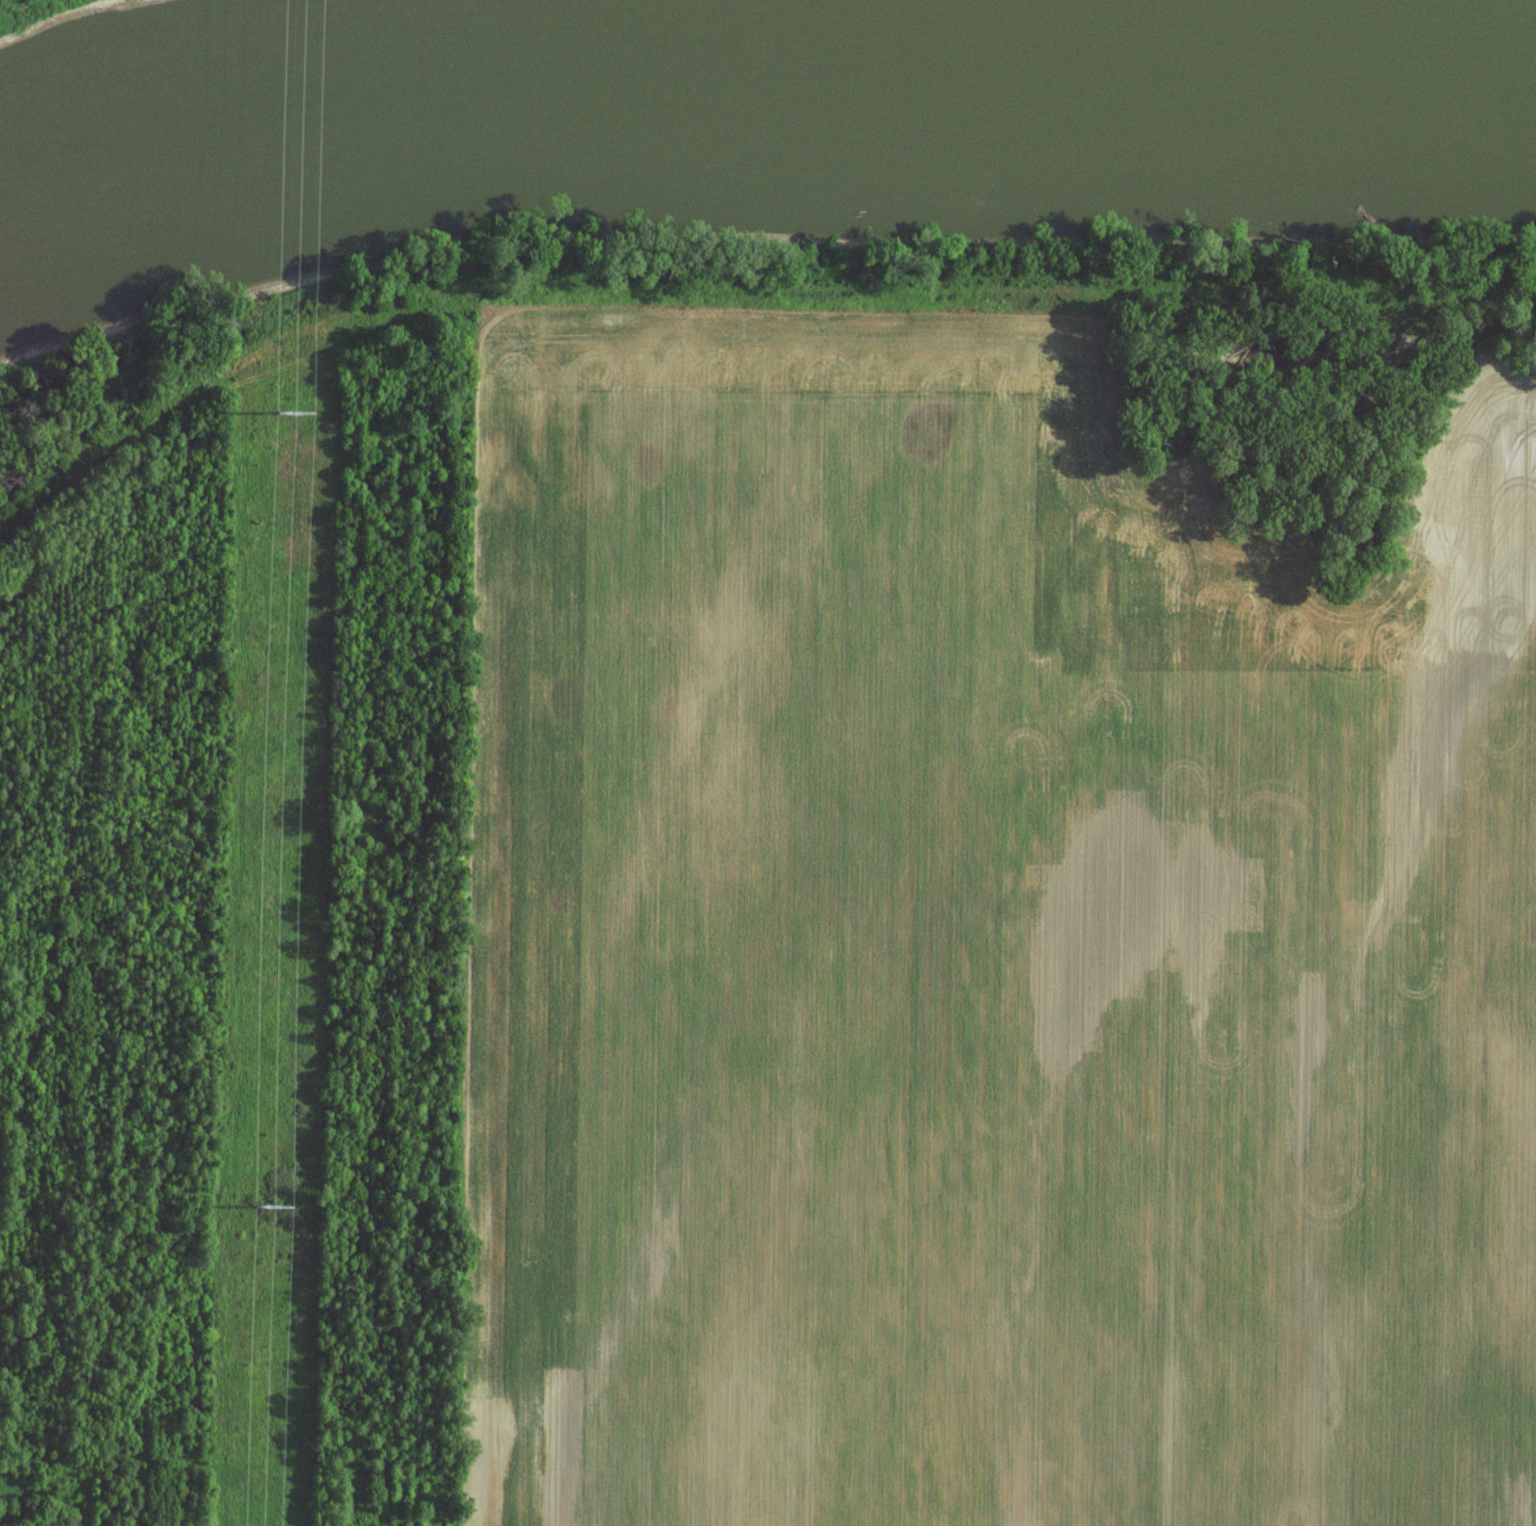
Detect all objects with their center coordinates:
river: (759, 51)
power tower: (290, 415)
power tower: (272, 1206)

